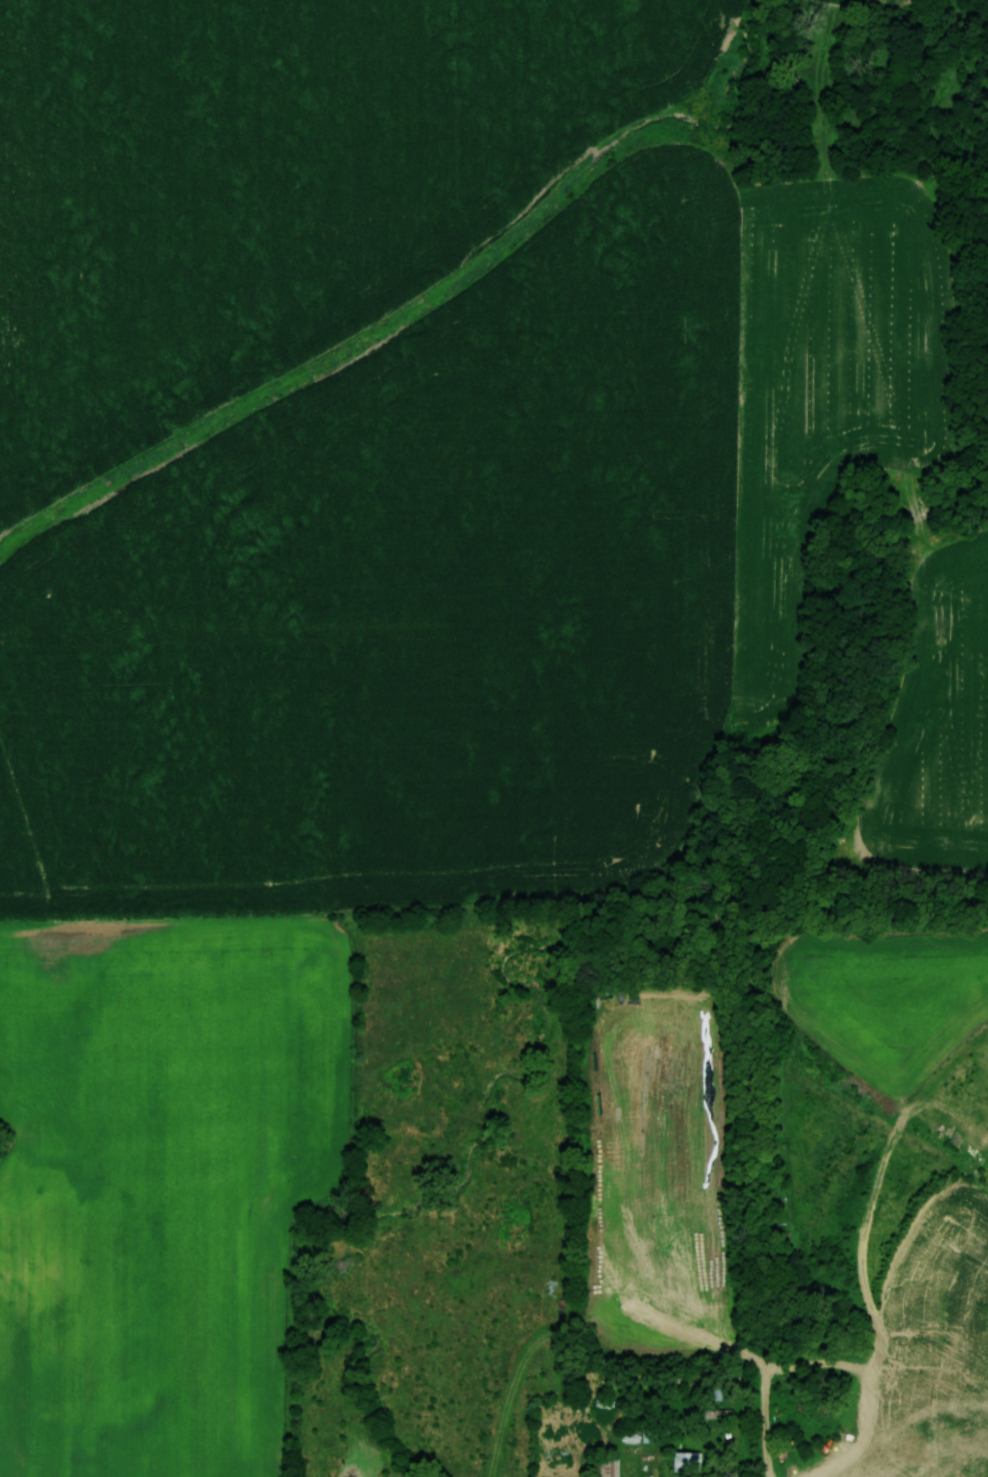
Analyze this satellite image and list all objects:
building: (718, 1414)
building: (649, 1434)
building: (630, 1437)
building: (686, 1461)
building: (608, 1467)

